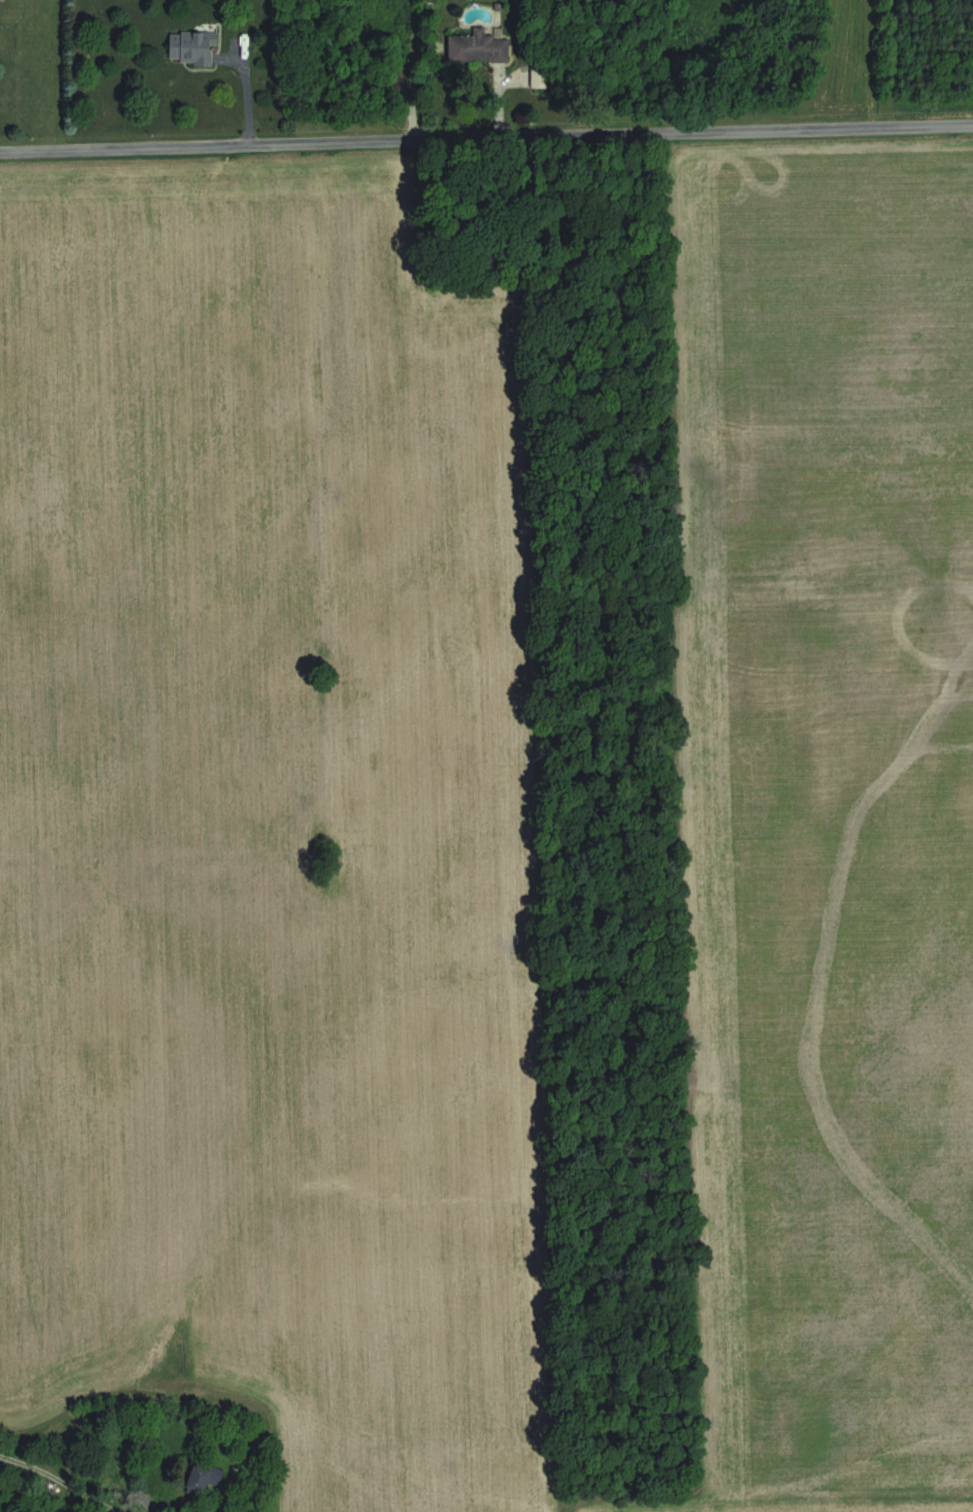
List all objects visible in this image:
building: (193, 47)
building: (479, 47)
road: (245, 86)
road: (486, 137)
road: (20, 1464)
road: (88, 1476)
building: (205, 1478)

